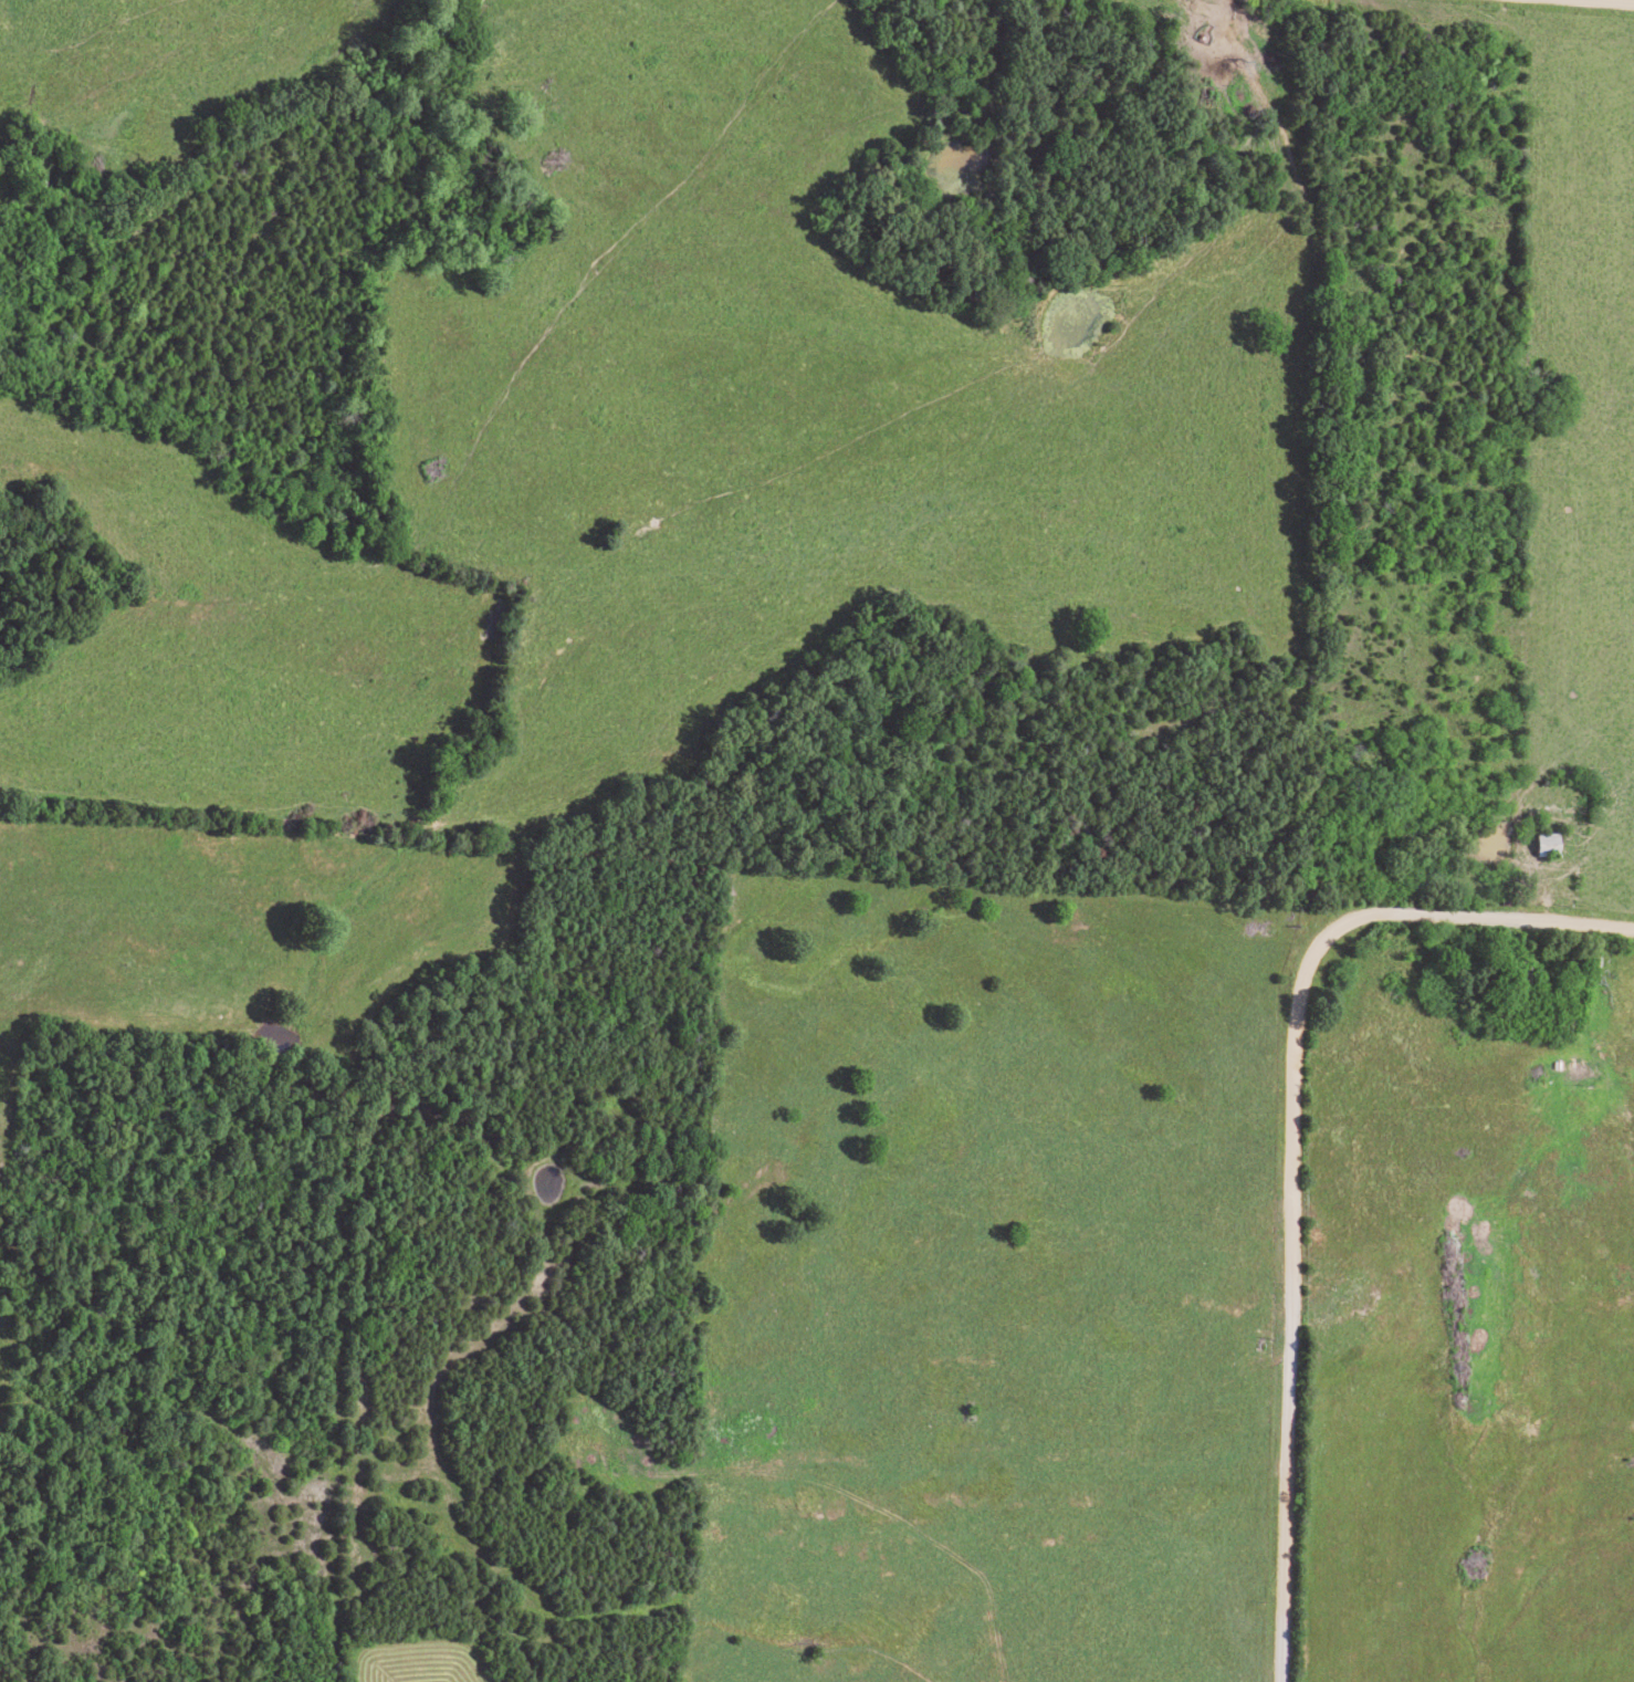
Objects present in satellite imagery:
road: (1611, 1)
road: (1289, 1148)

